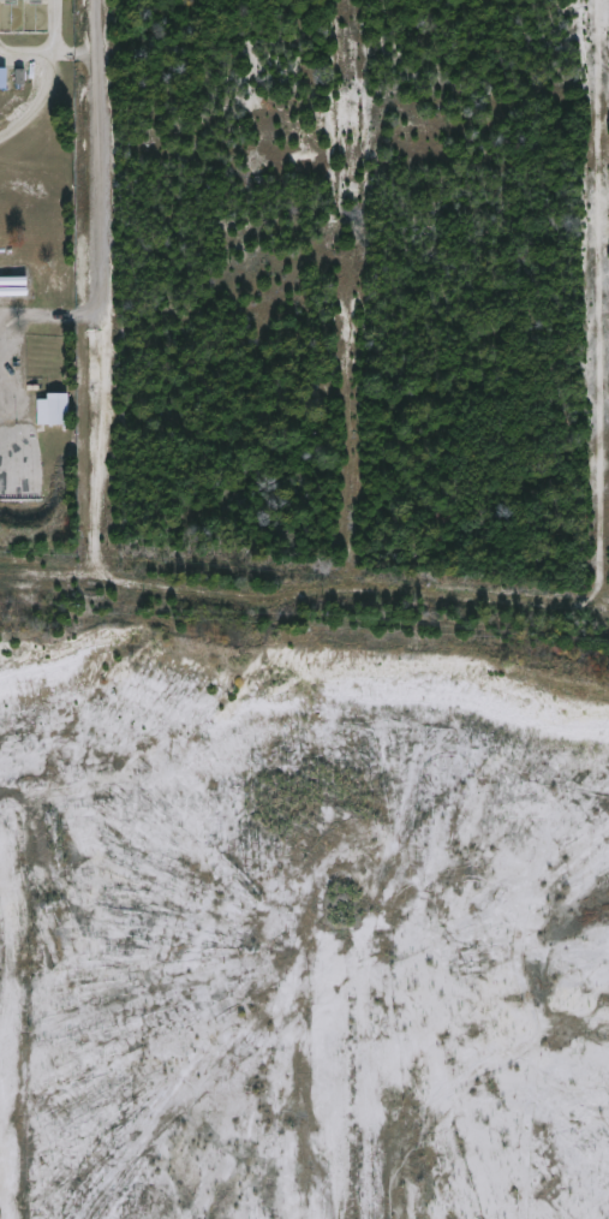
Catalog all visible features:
building: (2, 79)
road: (42, 93)
road: (95, 296)
road: (347, 299)
road: (601, 301)
building: (52, 410)
road: (306, 599)

